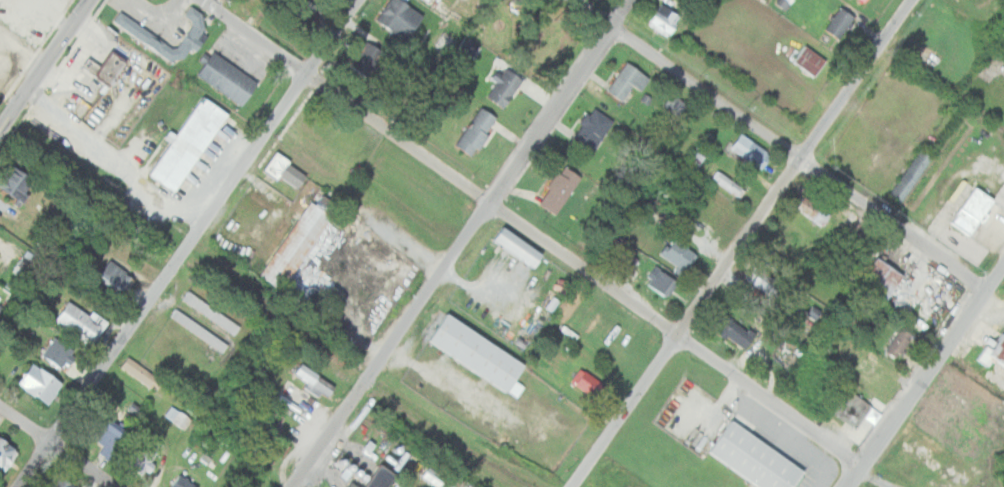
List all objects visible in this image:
building: (857, 0)
building: (865, 1)
building: (781, 3)
building: (399, 18)
building: (664, 19)
building: (194, 22)
building: (840, 23)
building: (137, 31)
road: (51, 58)
building: (366, 58)
building: (809, 60)
building: (110, 68)
building: (227, 78)
building: (627, 81)
building: (504, 86)
building: (675, 104)
road: (5, 113)
road: (5, 124)
building: (592, 130)
building: (476, 131)
building: (186, 144)
road: (782, 144)
building: (749, 151)
building: (695, 156)
building: (278, 169)
building: (910, 175)
building: (15, 182)
building: (727, 183)
building: (558, 189)
building: (812, 210)
building: (972, 211)
building: (846, 232)
road: (527, 236)
building: (298, 240)
road: (189, 244)
road: (459, 244)
building: (608, 245)
road: (744, 245)
building: (517, 246)
building: (1, 249)
building: (677, 256)
building: (768, 259)
building: (113, 278)
building: (761, 279)
building: (881, 279)
building: (660, 281)
building: (740, 281)
building: (548, 302)
building: (209, 312)
building: (80, 322)
building: (730, 328)
building: (198, 330)
building: (898, 343)
building: (58, 353)
building: (476, 353)
building: (992, 353)
building: (871, 369)
building: (140, 373)
railway: (359, 374)
road: (925, 376)
building: (313, 381)
building: (585, 382)
building: (40, 384)
building: (130, 408)
building: (850, 409)
building: (178, 419)
building: (104, 432)
road: (54, 448)
building: (144, 454)
building: (6, 455)
building: (754, 458)
building: (373, 478)
building: (182, 483)
building: (60, 484)
railway: (498, 484)
building: (349, 486)

